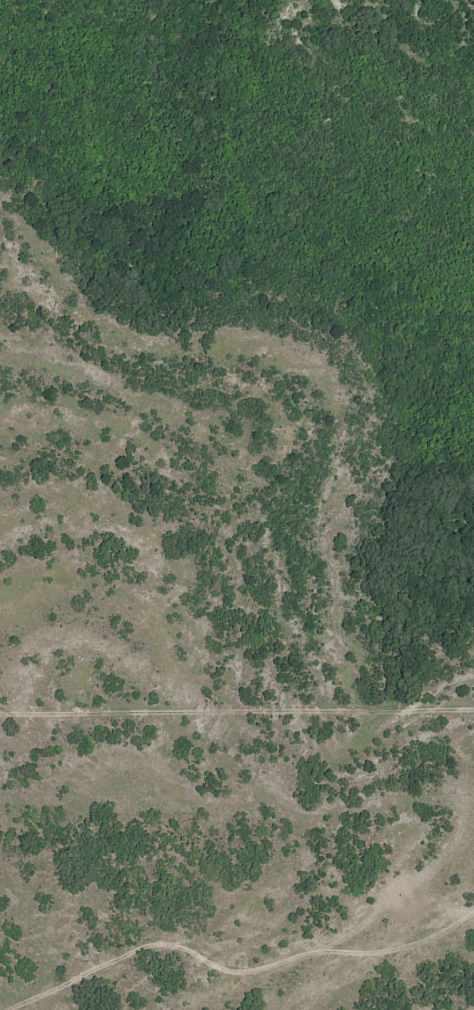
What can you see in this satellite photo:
road: (252, 950)

